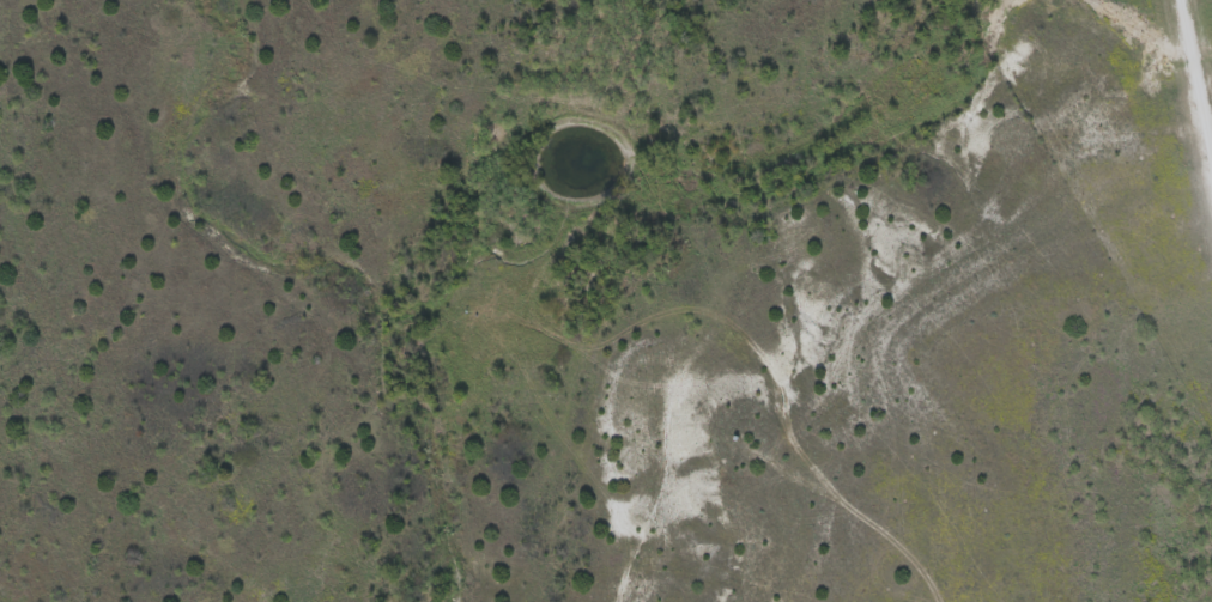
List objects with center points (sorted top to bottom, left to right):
road: (1193, 98)
road: (1206, 134)

